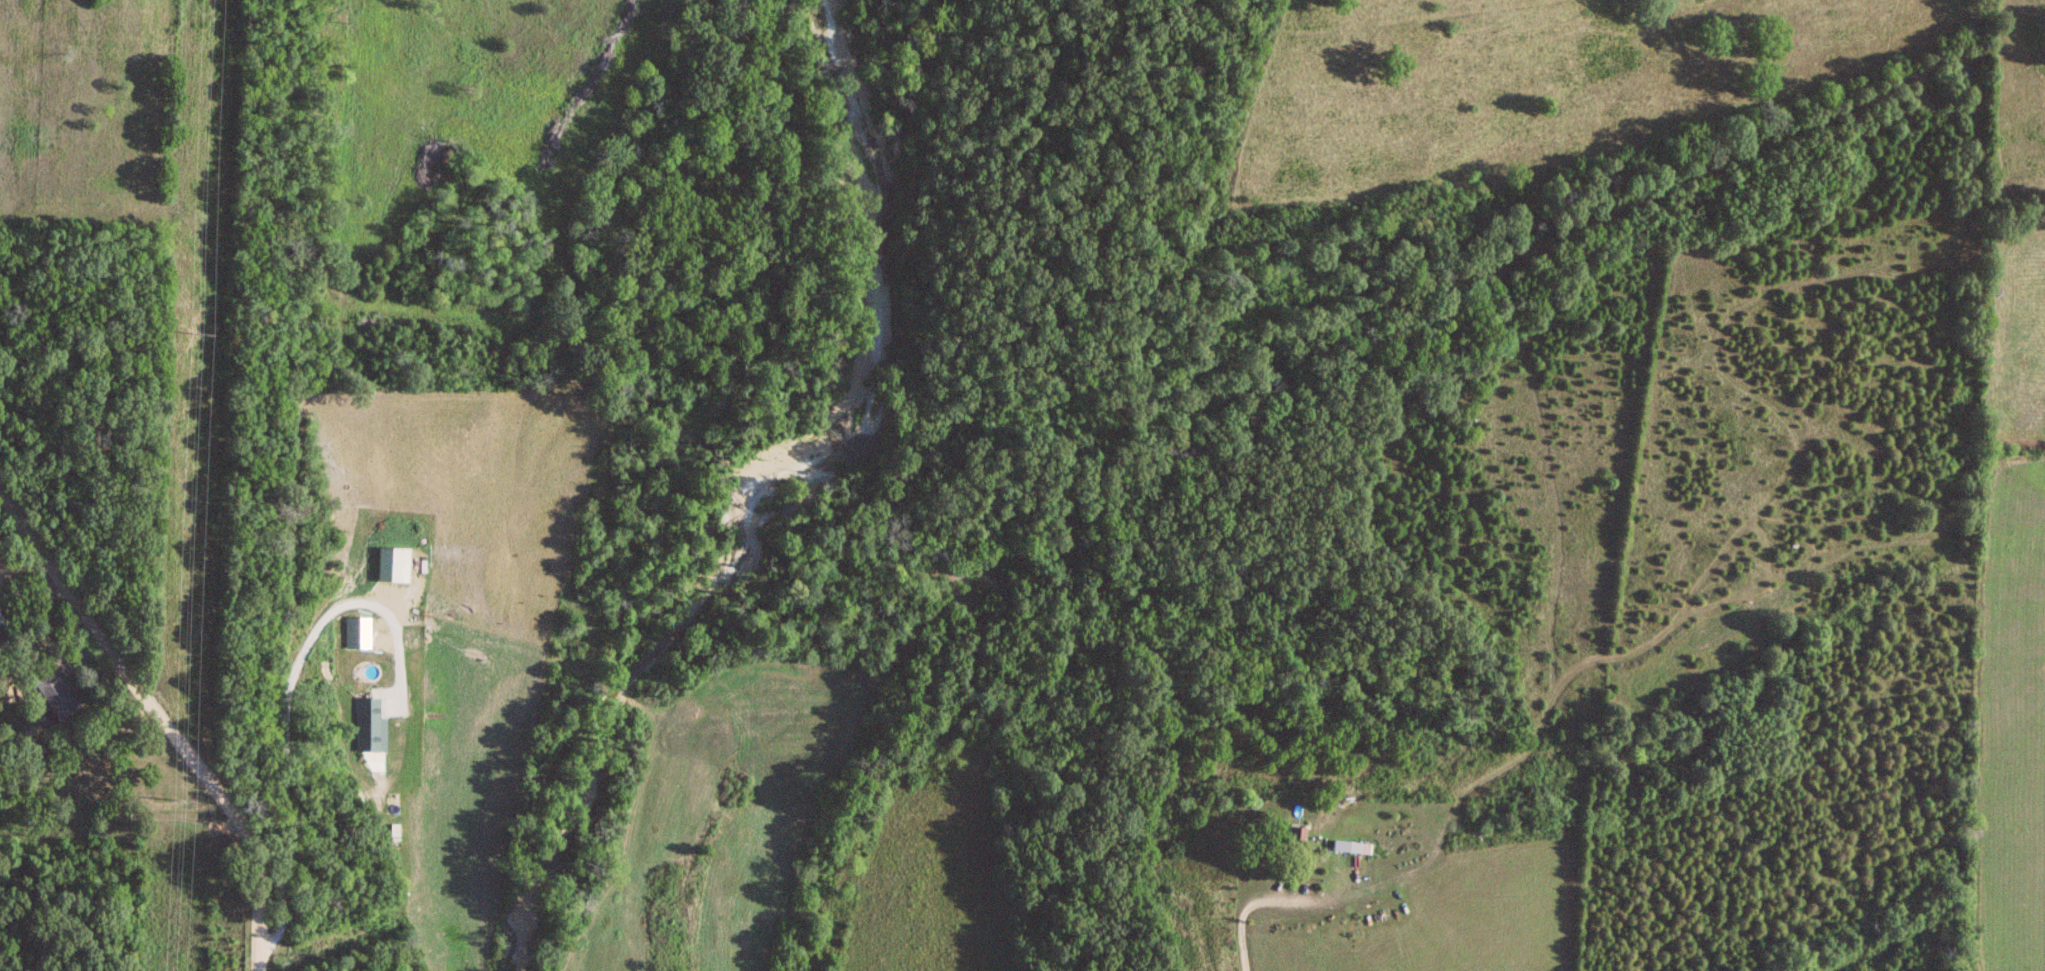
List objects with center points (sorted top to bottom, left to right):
building: (0, 621)
building: (359, 633)
road: (160, 721)
building: (374, 731)
building: (1303, 834)
building: (1353, 848)
road: (1257, 906)

